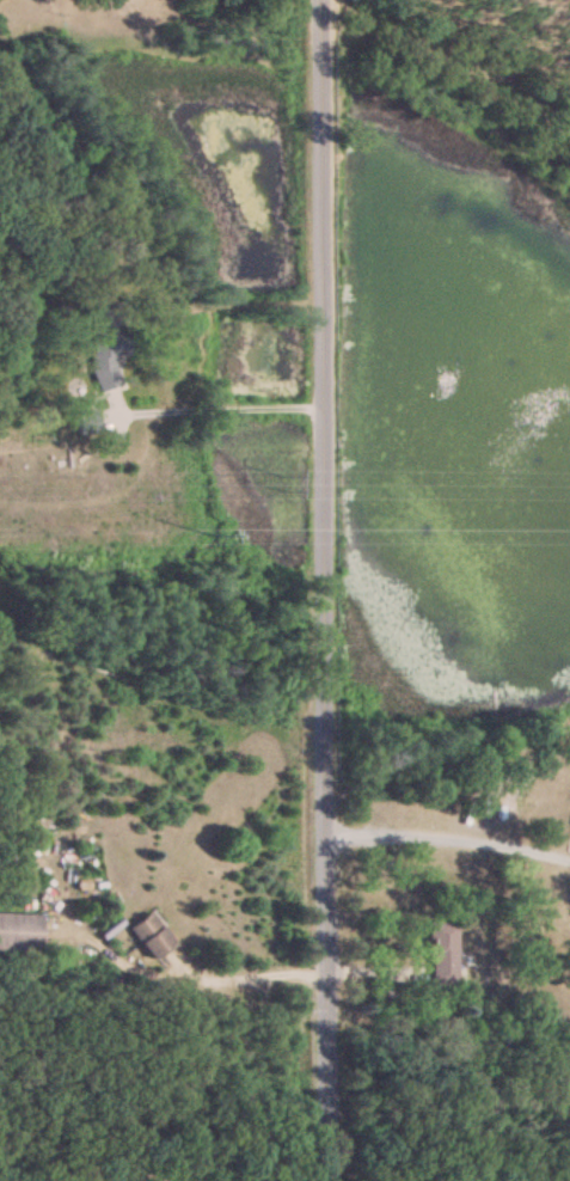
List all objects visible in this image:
building: (105, 349)
road: (216, 408)
building: (86, 421)
power tower: (284, 482)
power tower: (283, 534)
road: (314, 590)
road: (443, 837)
building: (19, 930)
building: (151, 935)
building: (442, 953)
road: (206, 979)

